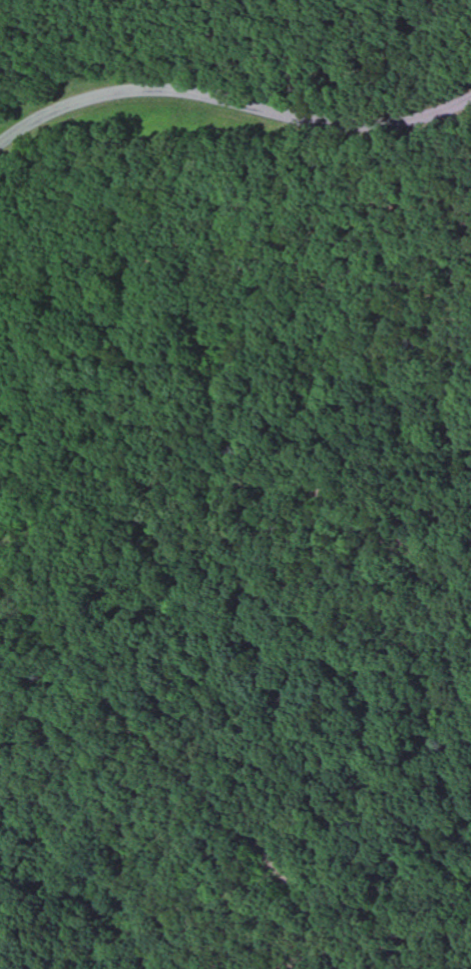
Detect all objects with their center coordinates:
road: (232, 105)

